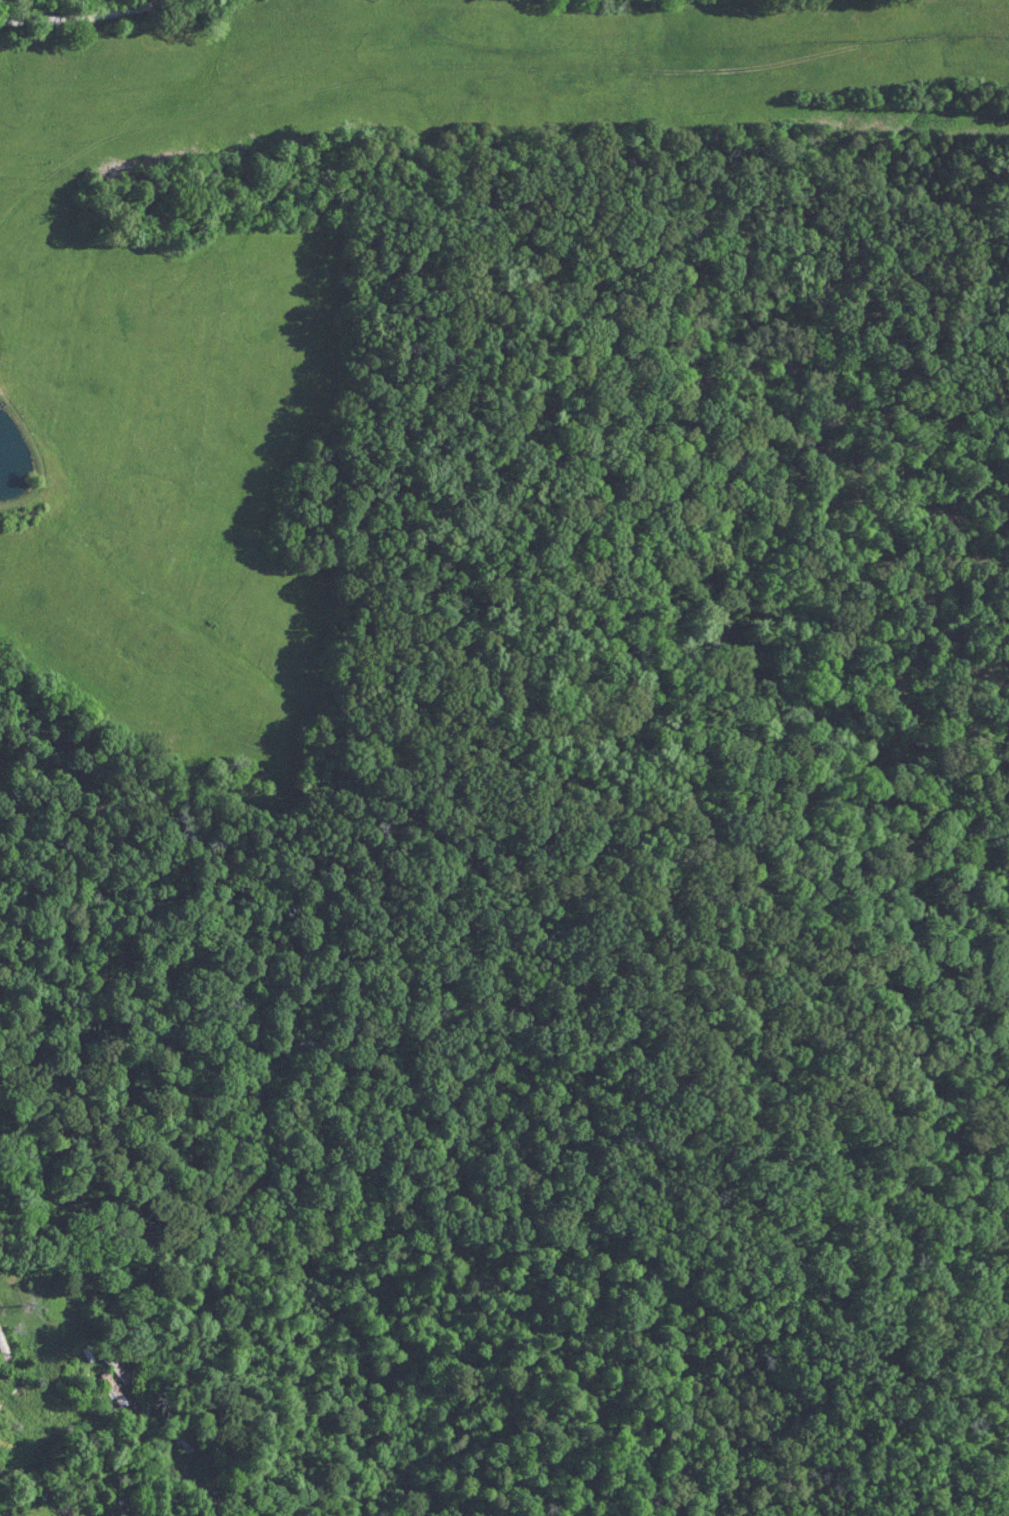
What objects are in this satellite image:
road: (88, 18)

